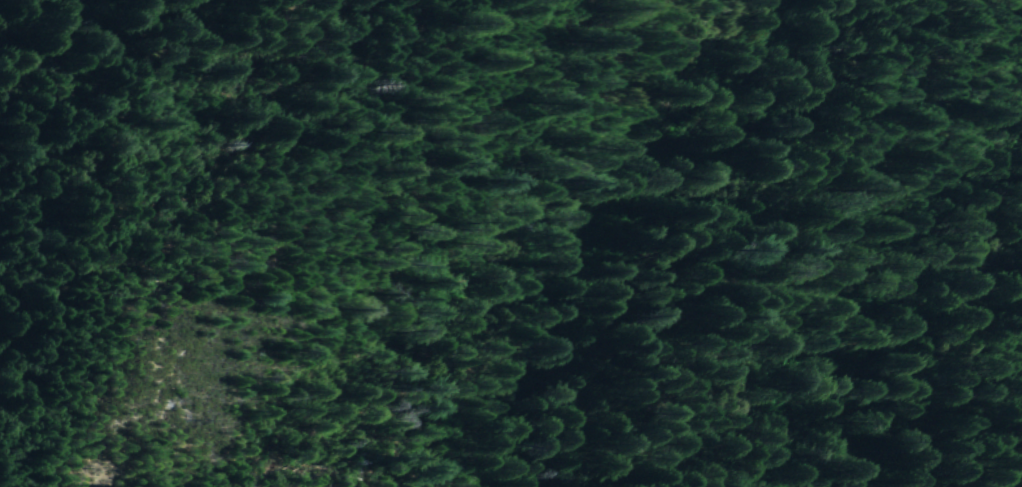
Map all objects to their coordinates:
park: (497, 257)

